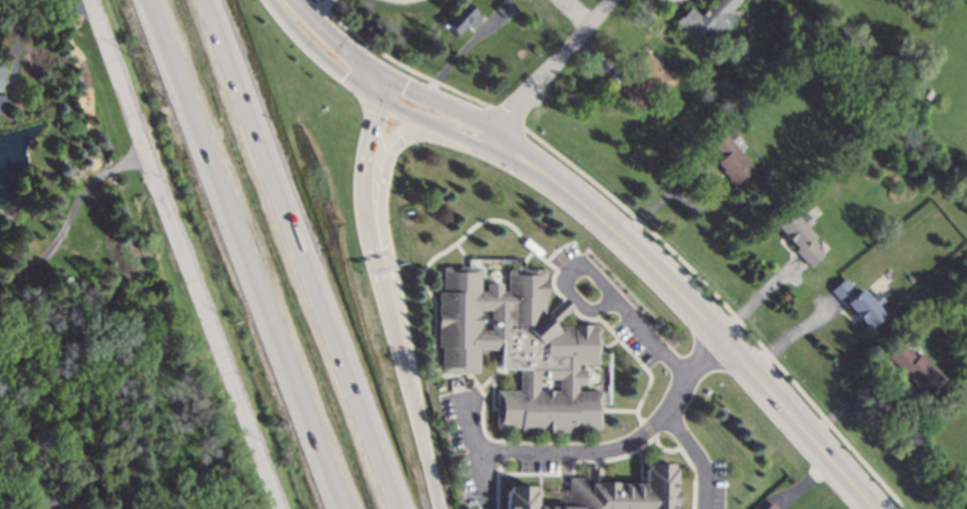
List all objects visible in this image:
road: (283, 0)
road: (319, 9)
building: (507, 9)
road: (577, 13)
building: (462, 17)
building: (707, 20)
road: (47, 24)
road: (333, 39)
building: (779, 51)
road: (459, 55)
road: (601, 60)
road: (14, 68)
road: (553, 68)
building: (1, 74)
building: (647, 77)
traffic signals: (386, 80)
road: (383, 89)
road: (370, 91)
traffic signals: (381, 99)
road: (441, 103)
building: (689, 131)
building: (732, 133)
building: (732, 160)
building: (804, 179)
road: (667, 195)
road: (711, 201)
road: (70, 217)
road: (640, 222)
building: (800, 236)
road: (185, 254)
road: (242, 254)
road: (304, 254)
road: (758, 296)
building: (859, 303)
road: (695, 309)
road: (632, 320)
road: (791, 334)
building: (521, 347)
building: (917, 369)
road: (851, 401)
road: (475, 423)
road: (601, 451)
road: (697, 456)
building: (96, 457)
road: (806, 482)
building: (965, 487)
building: (608, 491)
road: (34, 504)
building: (772, 506)
building: (66, 507)

